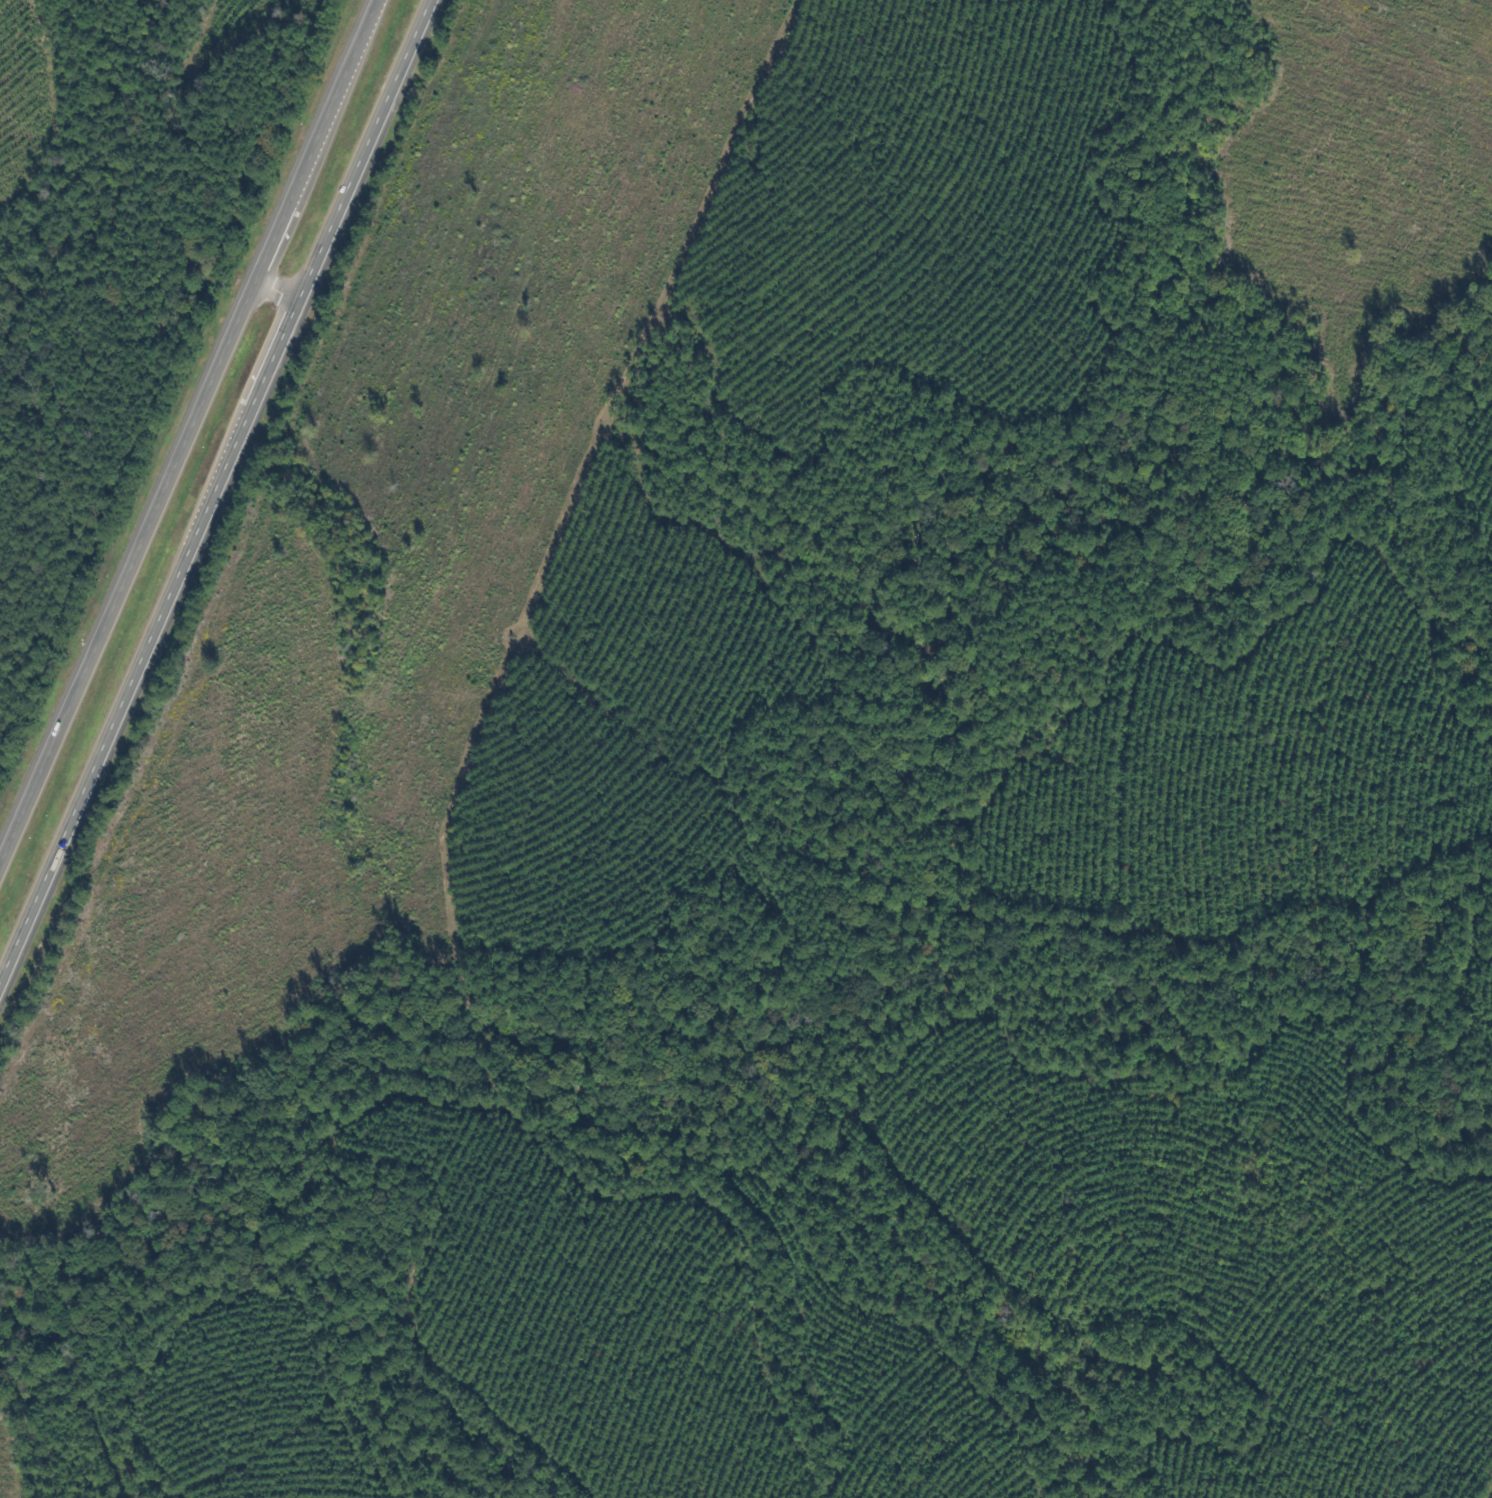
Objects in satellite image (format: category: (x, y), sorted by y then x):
road: (284, 291)
road: (193, 445)
road: (220, 494)

